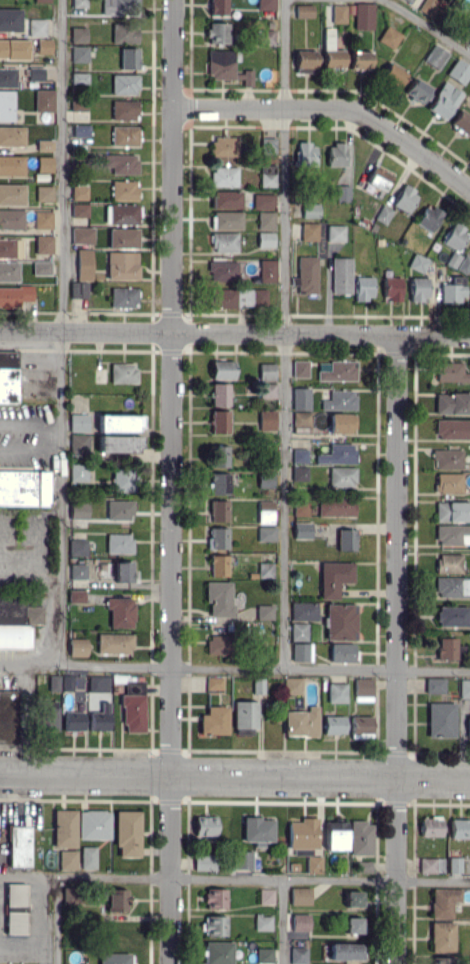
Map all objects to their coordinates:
building: (41, 0)
building: (409, 0)
building: (78, 3)
building: (265, 4)
building: (120, 7)
building: (217, 7)
building: (429, 7)
building: (303, 10)
building: (338, 13)
building: (363, 16)
building: (10, 19)
building: (36, 27)
road: (427, 27)
building: (124, 33)
building: (217, 33)
building: (78, 34)
building: (266, 36)
building: (389, 37)
building: (469, 43)
building: (44, 45)
building: (13, 48)
building: (79, 53)
building: (435, 55)
building: (128, 57)
building: (359, 59)
building: (304, 61)
building: (221, 64)
building: (458, 71)
building: (35, 73)
building: (393, 74)
building: (7, 77)
building: (79, 77)
building: (245, 77)
building: (124, 84)
building: (416, 91)
building: (44, 100)
building: (443, 100)
building: (6, 105)
building: (123, 109)
road: (332, 110)
building: (461, 122)
building: (81, 130)
building: (124, 135)
building: (11, 136)
building: (44, 144)
building: (267, 145)
building: (224, 146)
building: (306, 154)
building: (336, 154)
building: (44, 163)
building: (121, 163)
building: (11, 165)
building: (267, 174)
building: (224, 176)
building: (378, 178)
building: (123, 190)
building: (79, 192)
building: (342, 192)
building: (44, 193)
building: (11, 194)
building: (404, 198)
building: (226, 199)
building: (263, 201)
building: (79, 210)
building: (310, 210)
building: (123, 214)
building: (383, 214)
building: (428, 217)
building: (11, 218)
building: (42, 219)
building: (226, 220)
building: (265, 220)
building: (309, 231)
building: (335, 233)
building: (81, 235)
building: (454, 237)
building: (122, 238)
building: (265, 239)
building: (224, 242)
building: (43, 244)
building: (10, 248)
building: (418, 263)
building: (84, 264)
building: (464, 264)
building: (121, 265)
building: (41, 267)
building: (222, 270)
building: (267, 270)
building: (8, 271)
building: (307, 274)
building: (341, 275)
building: (363, 287)
building: (391, 288)
building: (418, 288)
building: (78, 289)
building: (452, 290)
building: (15, 294)
building: (123, 297)
building: (250, 297)
building: (224, 298)
road: (234, 333)
road: (59, 334)
road: (285, 336)
building: (299, 368)
building: (222, 369)
building: (266, 371)
building: (338, 371)
building: (123, 372)
building: (451, 372)
building: (8, 375)
building: (267, 390)
building: (219, 394)
building: (300, 398)
building: (339, 400)
building: (452, 403)
building: (266, 419)
building: (219, 421)
building: (78, 422)
building: (301, 422)
building: (118, 423)
building: (341, 423)
road: (29, 425)
building: (453, 429)
building: (77, 443)
building: (118, 443)
road: (29, 450)
building: (337, 454)
building: (219, 455)
building: (299, 455)
building: (447, 459)
building: (78, 472)
building: (299, 473)
building: (342, 476)
building: (265, 479)
building: (122, 480)
road: (171, 482)
building: (448, 482)
building: (218, 483)
building: (24, 486)
building: (336, 507)
building: (300, 508)
building: (118, 509)
building: (218, 510)
building: (78, 511)
building: (452, 511)
building: (265, 512)
building: (301, 530)
building: (266, 533)
building: (453, 534)
building: (217, 537)
building: (345, 539)
building: (119, 543)
building: (77, 547)
building: (448, 562)
building: (218, 565)
road: (30, 568)
building: (264, 569)
building: (78, 571)
building: (123, 571)
building: (333, 578)
building: (451, 586)
building: (76, 596)
building: (219, 598)
building: (120, 611)
building: (264, 611)
building: (303, 611)
building: (34, 614)
building: (452, 616)
building: (340, 621)
building: (13, 624)
building: (298, 631)
building: (115, 643)
building: (217, 644)
building: (77, 646)
building: (446, 648)
road: (397, 649)
building: (299, 652)
building: (341, 652)
road: (234, 672)
building: (54, 682)
building: (67, 682)
building: (98, 683)
building: (214, 683)
building: (292, 685)
building: (434, 685)
building: (464, 688)
building: (362, 690)
building: (336, 692)
building: (133, 706)
building: (245, 714)
building: (48, 715)
building: (10, 717)
building: (99, 718)
building: (440, 719)
building: (73, 720)
building: (214, 720)
building: (301, 722)
building: (333, 724)
building: (468, 725)
building: (360, 727)
road: (234, 779)
building: (94, 824)
building: (205, 825)
building: (430, 826)
building: (64, 828)
building: (459, 828)
building: (257, 830)
building: (127, 833)
building: (302, 833)
building: (335, 834)
building: (360, 837)
building: (18, 846)
building: (88, 857)
building: (67, 859)
building: (243, 860)
building: (204, 861)
building: (313, 864)
building: (454, 864)
building: (430, 865)
building: (363, 866)
road: (234, 877)
building: (14, 894)
building: (300, 895)
building: (266, 896)
building: (215, 898)
building: (352, 898)
building: (117, 901)
building: (443, 902)
road: (54, 919)
road: (284, 921)
building: (300, 921)
building: (14, 922)
building: (262, 922)
building: (352, 924)
building: (213, 925)
building: (441, 936)
building: (345, 951)
building: (217, 952)
building: (264, 955)
building: (298, 955)
building: (113, 958)
building: (442, 960)

